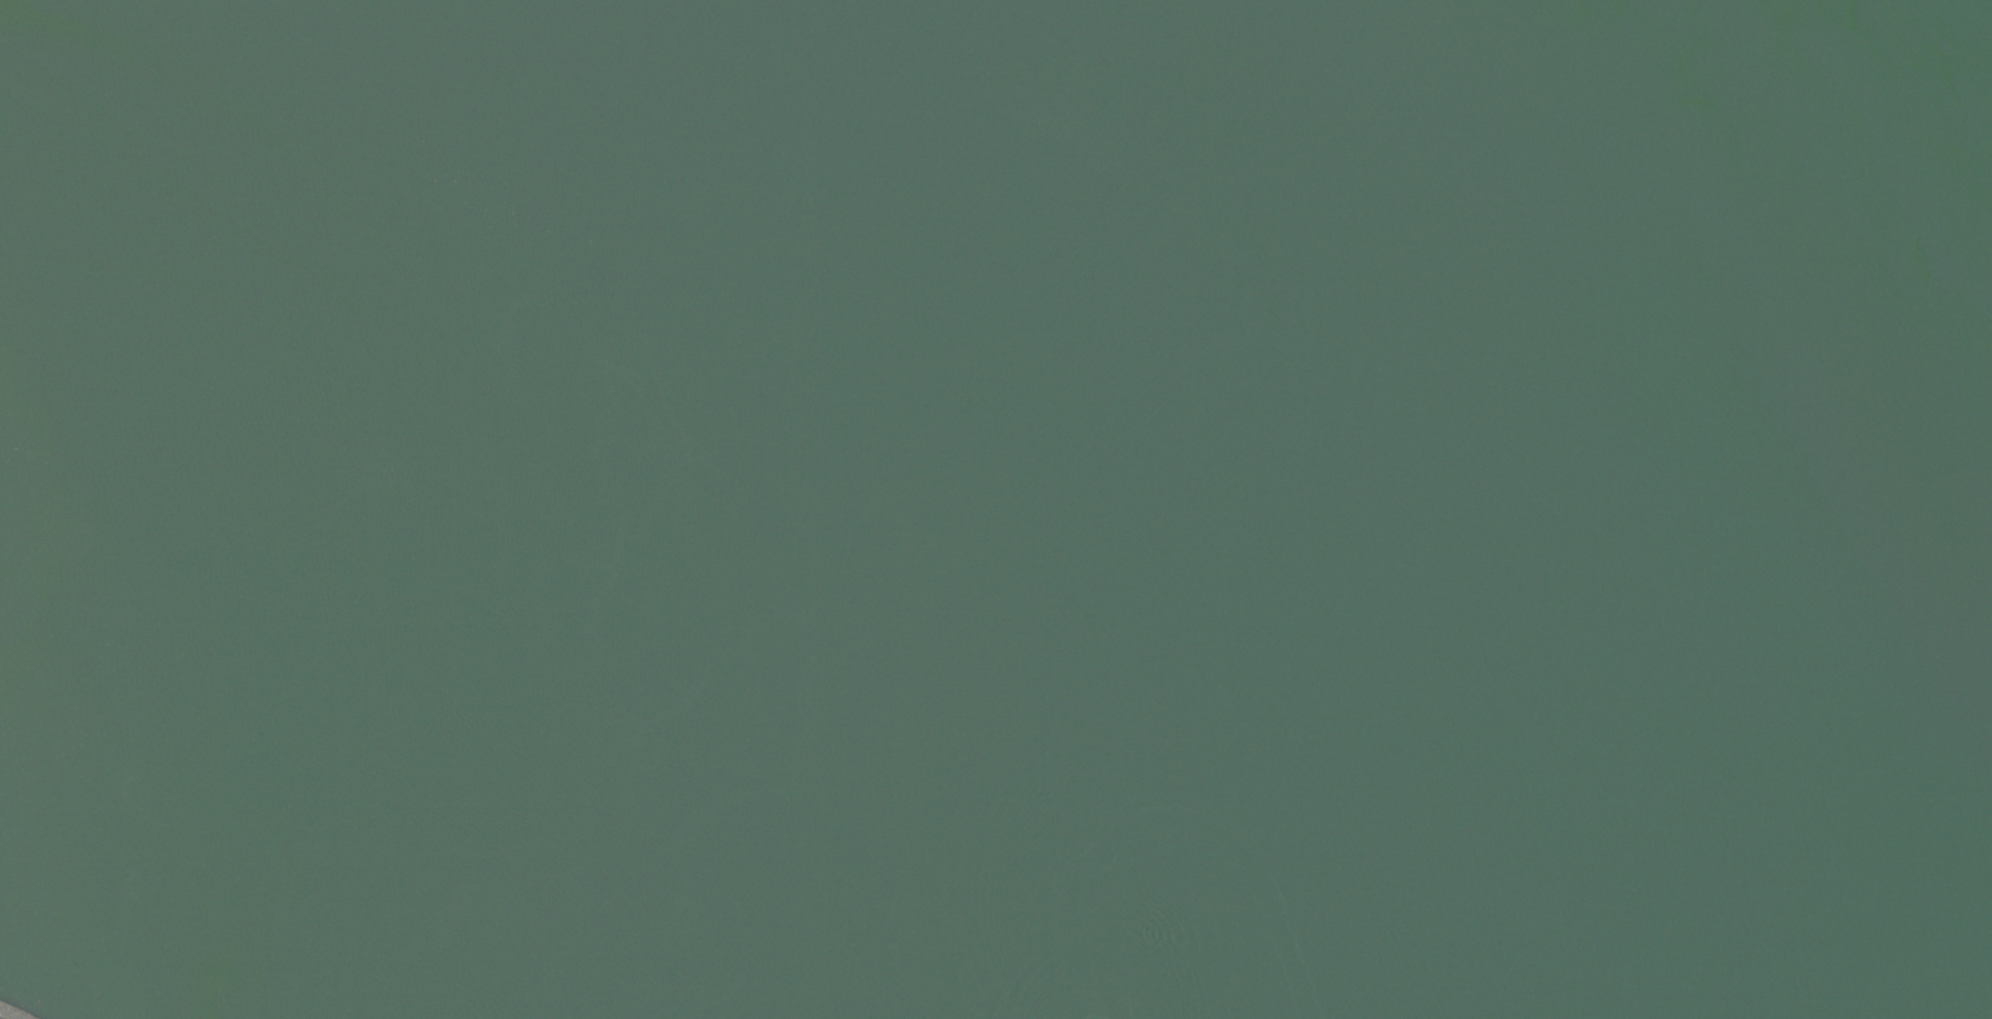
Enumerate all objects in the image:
river: (1598, 544)

